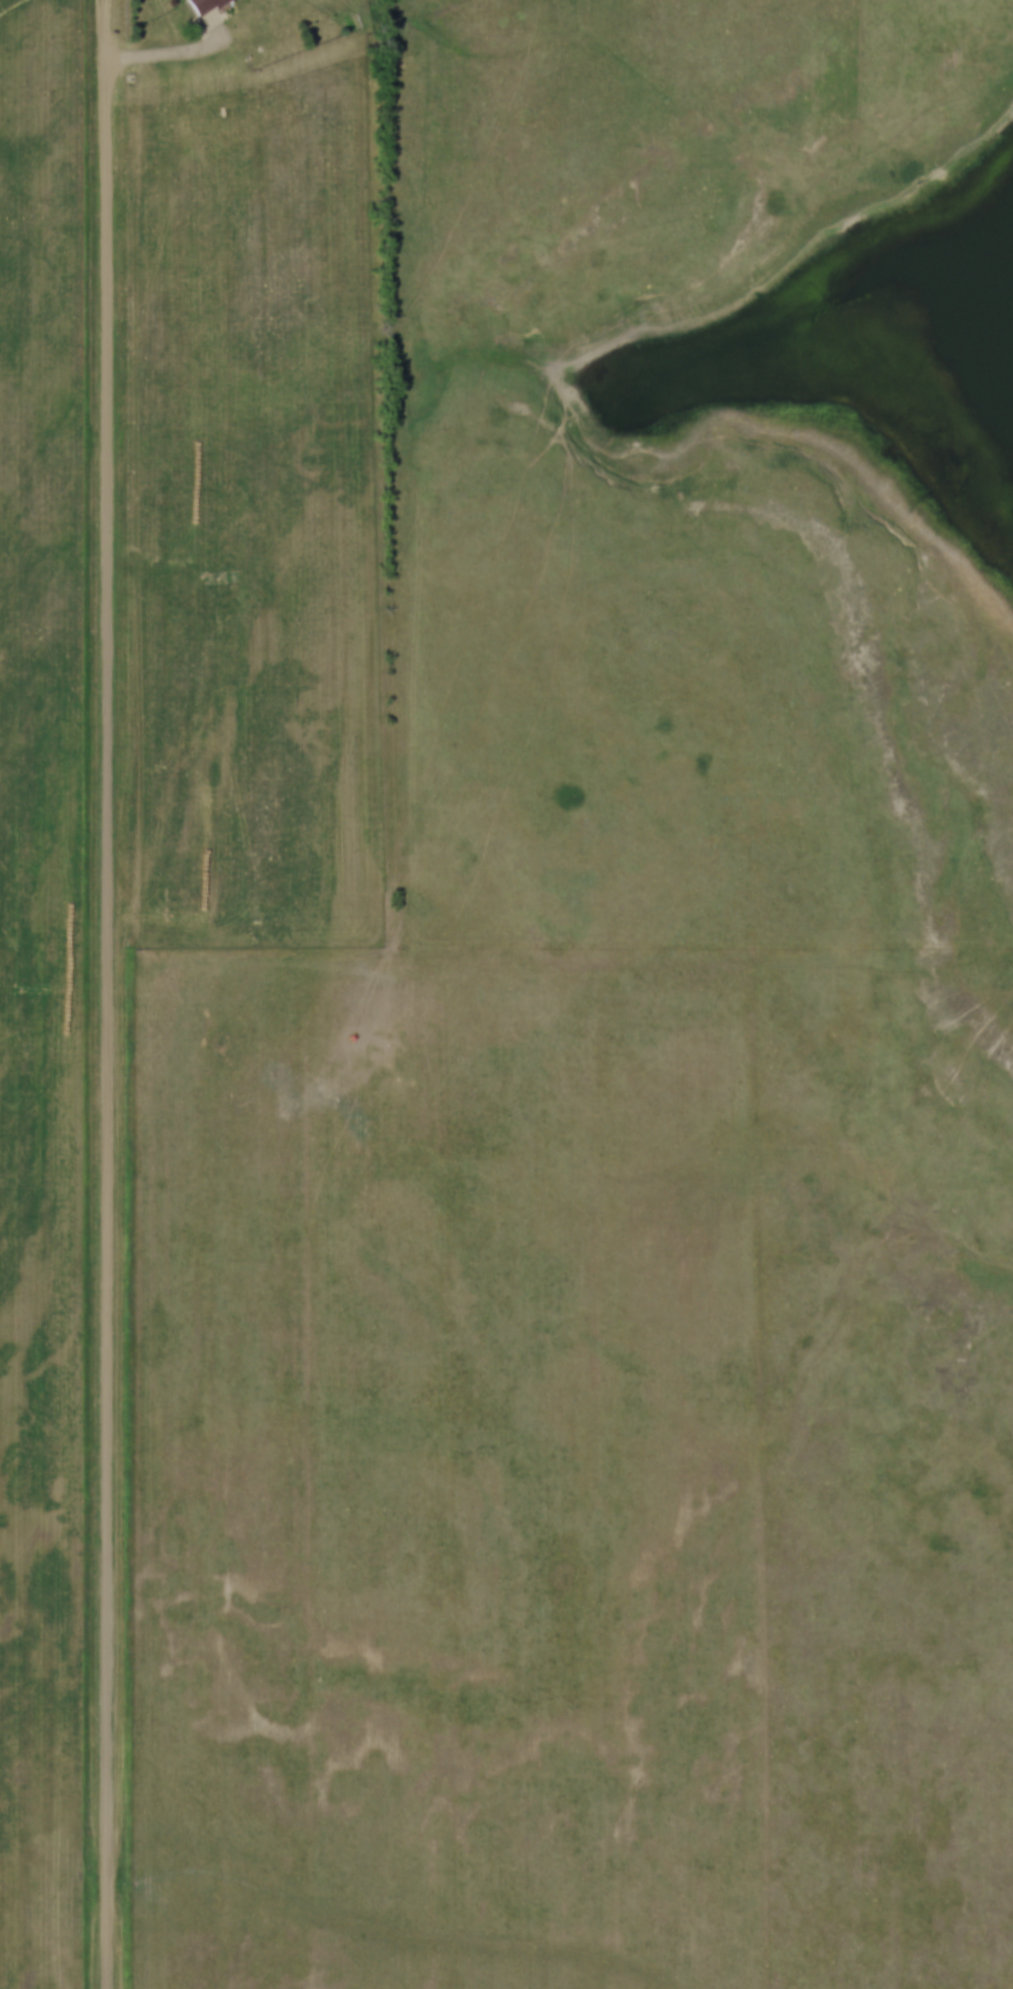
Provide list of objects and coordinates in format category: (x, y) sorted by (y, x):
building: (188, 21)
road: (160, 79)
road: (114, 994)

